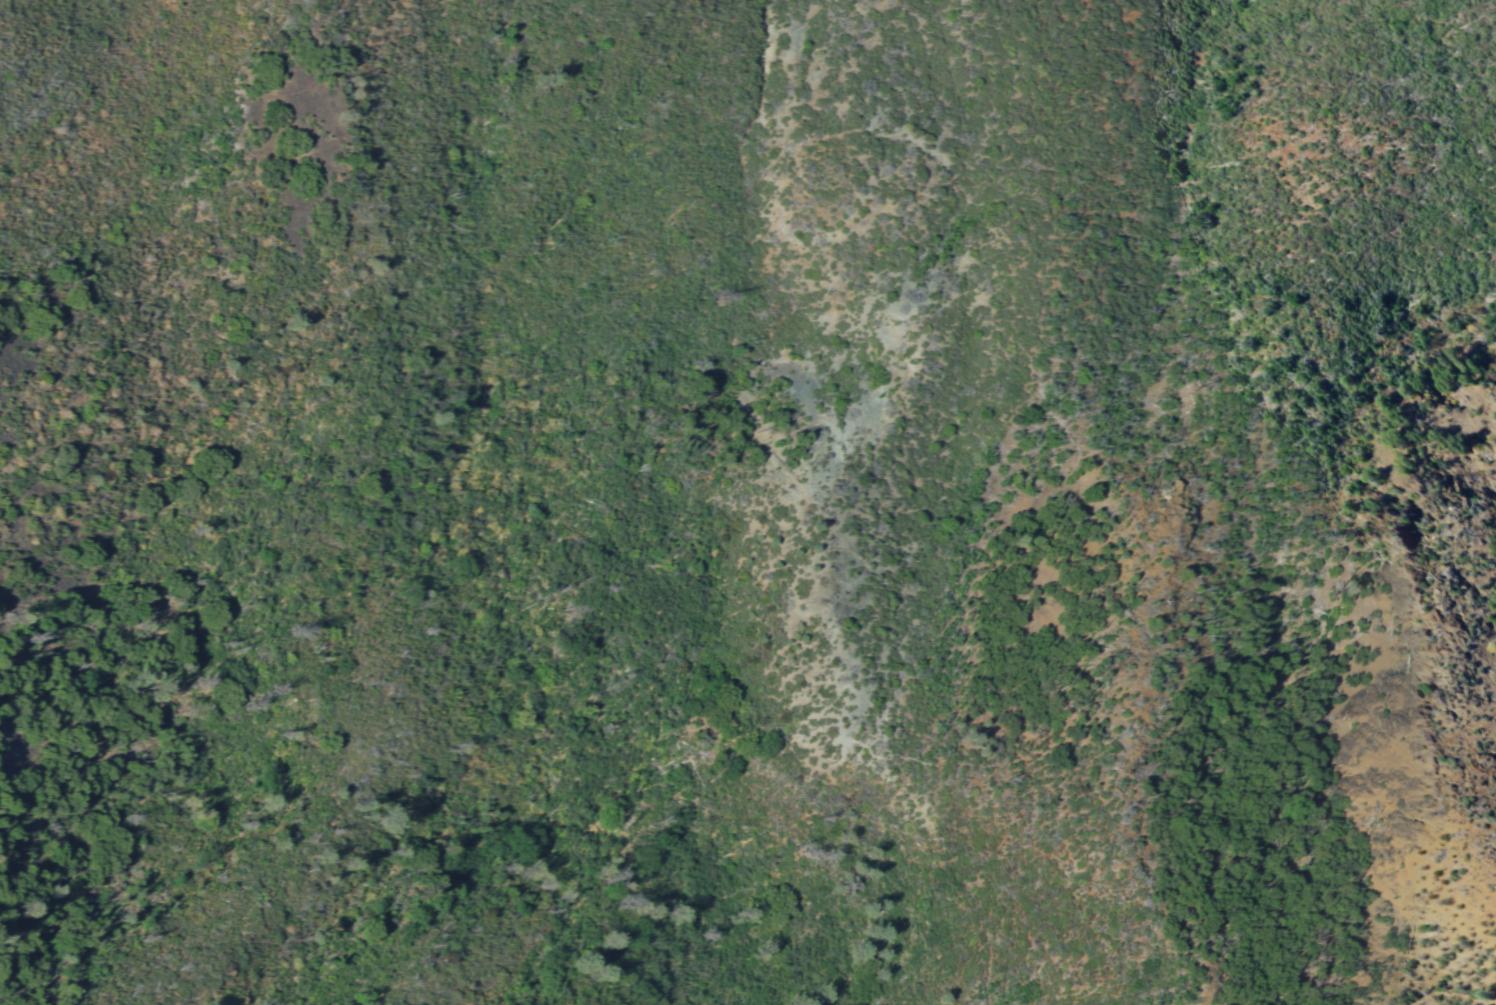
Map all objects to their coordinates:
road: (1490, 996)

